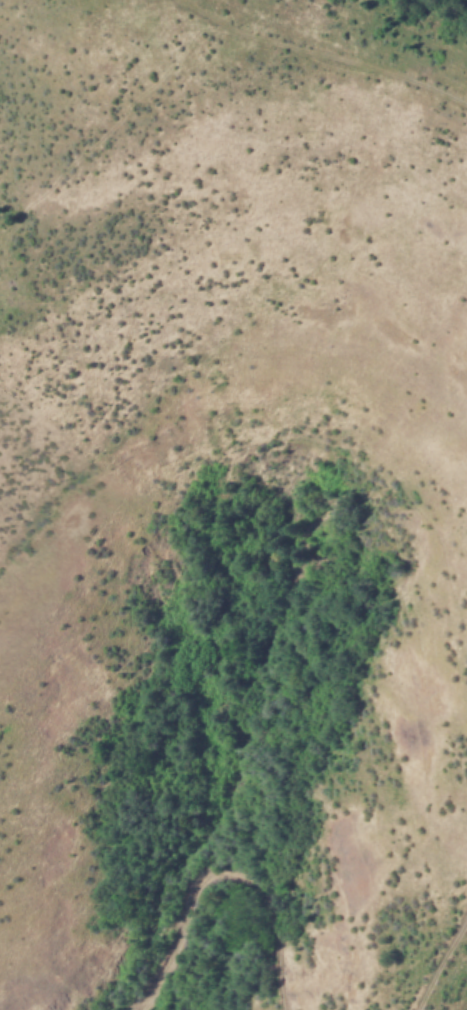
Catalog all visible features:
road: (227, 852)
road: (453, 980)

